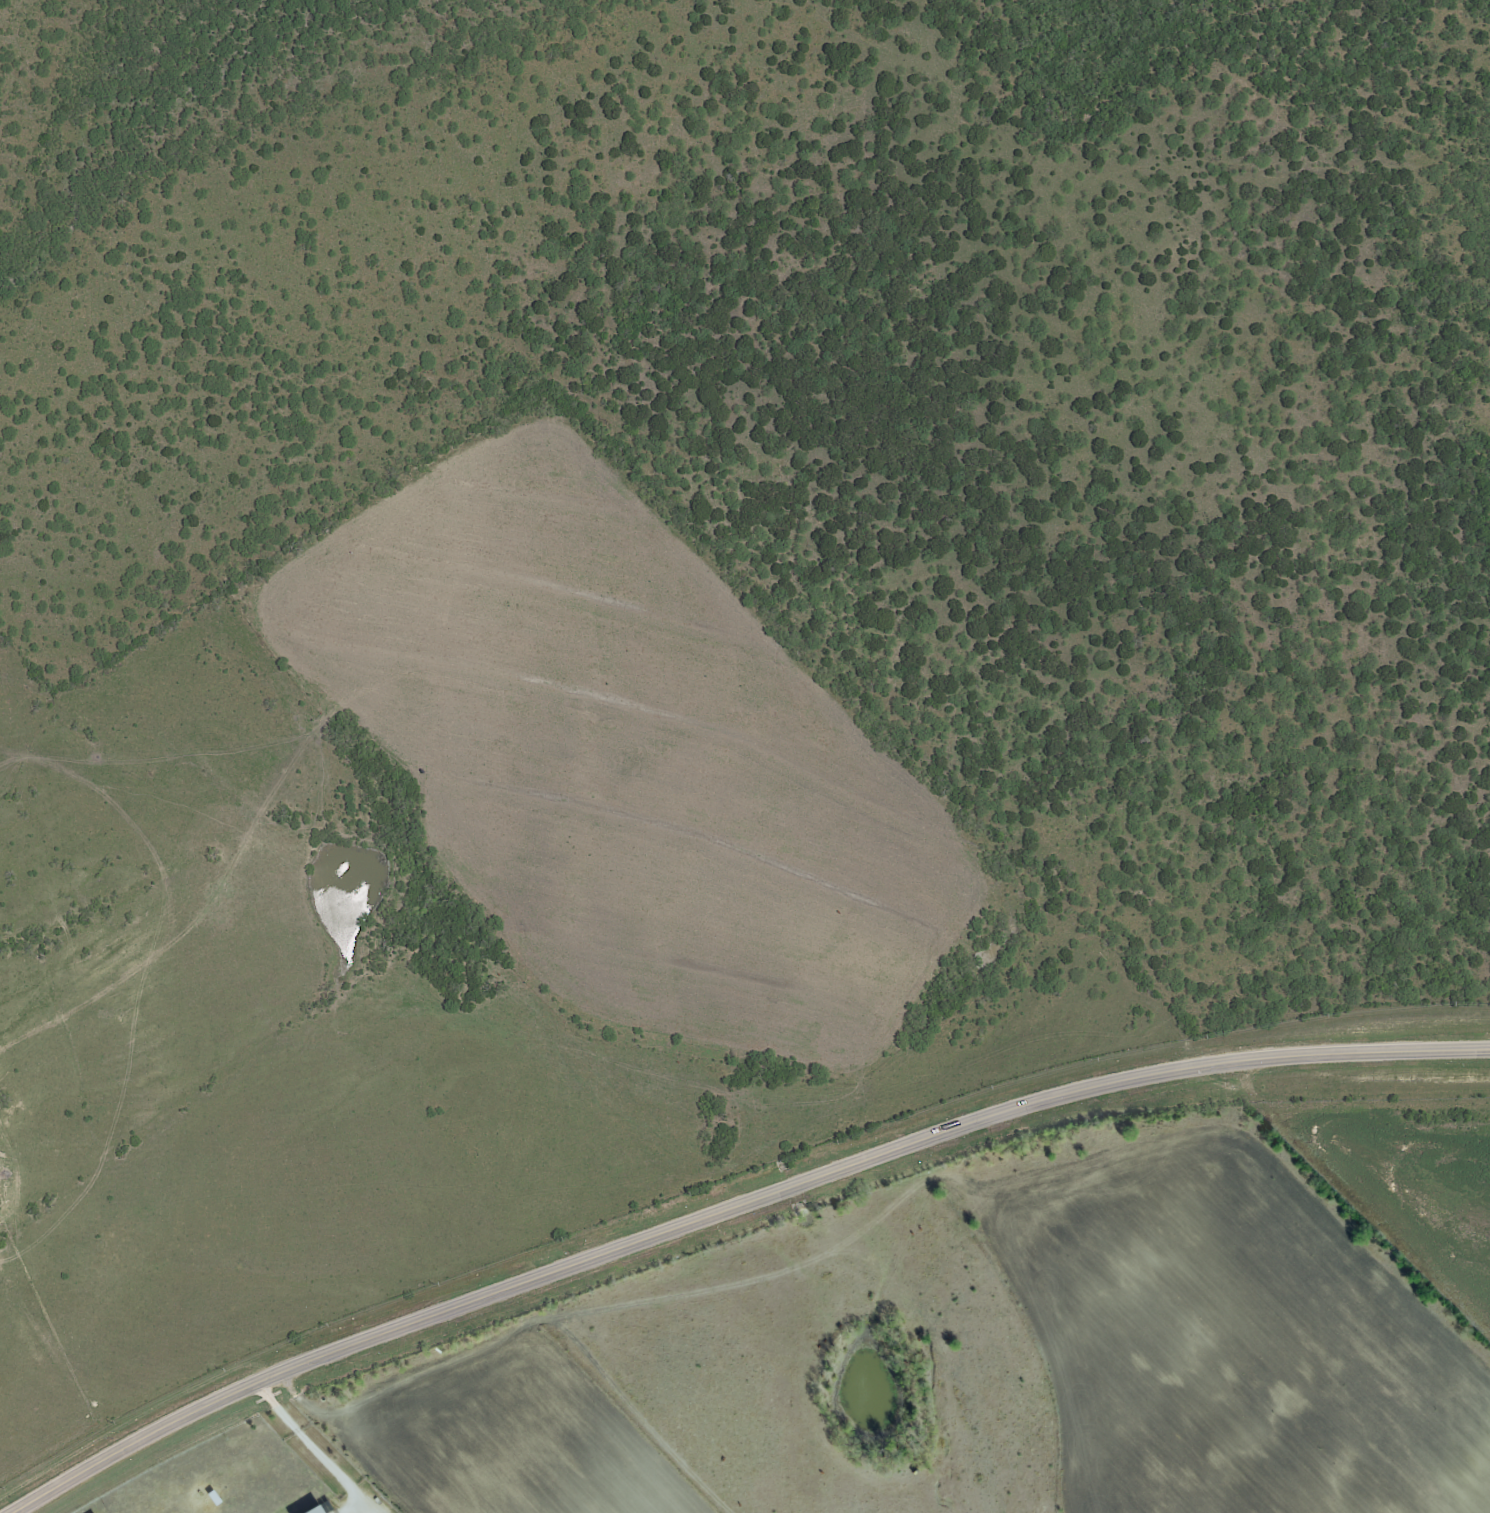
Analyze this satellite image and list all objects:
landfill: (1409, 1182)
road: (731, 1208)
road: (311, 1447)
building: (307, 1510)

